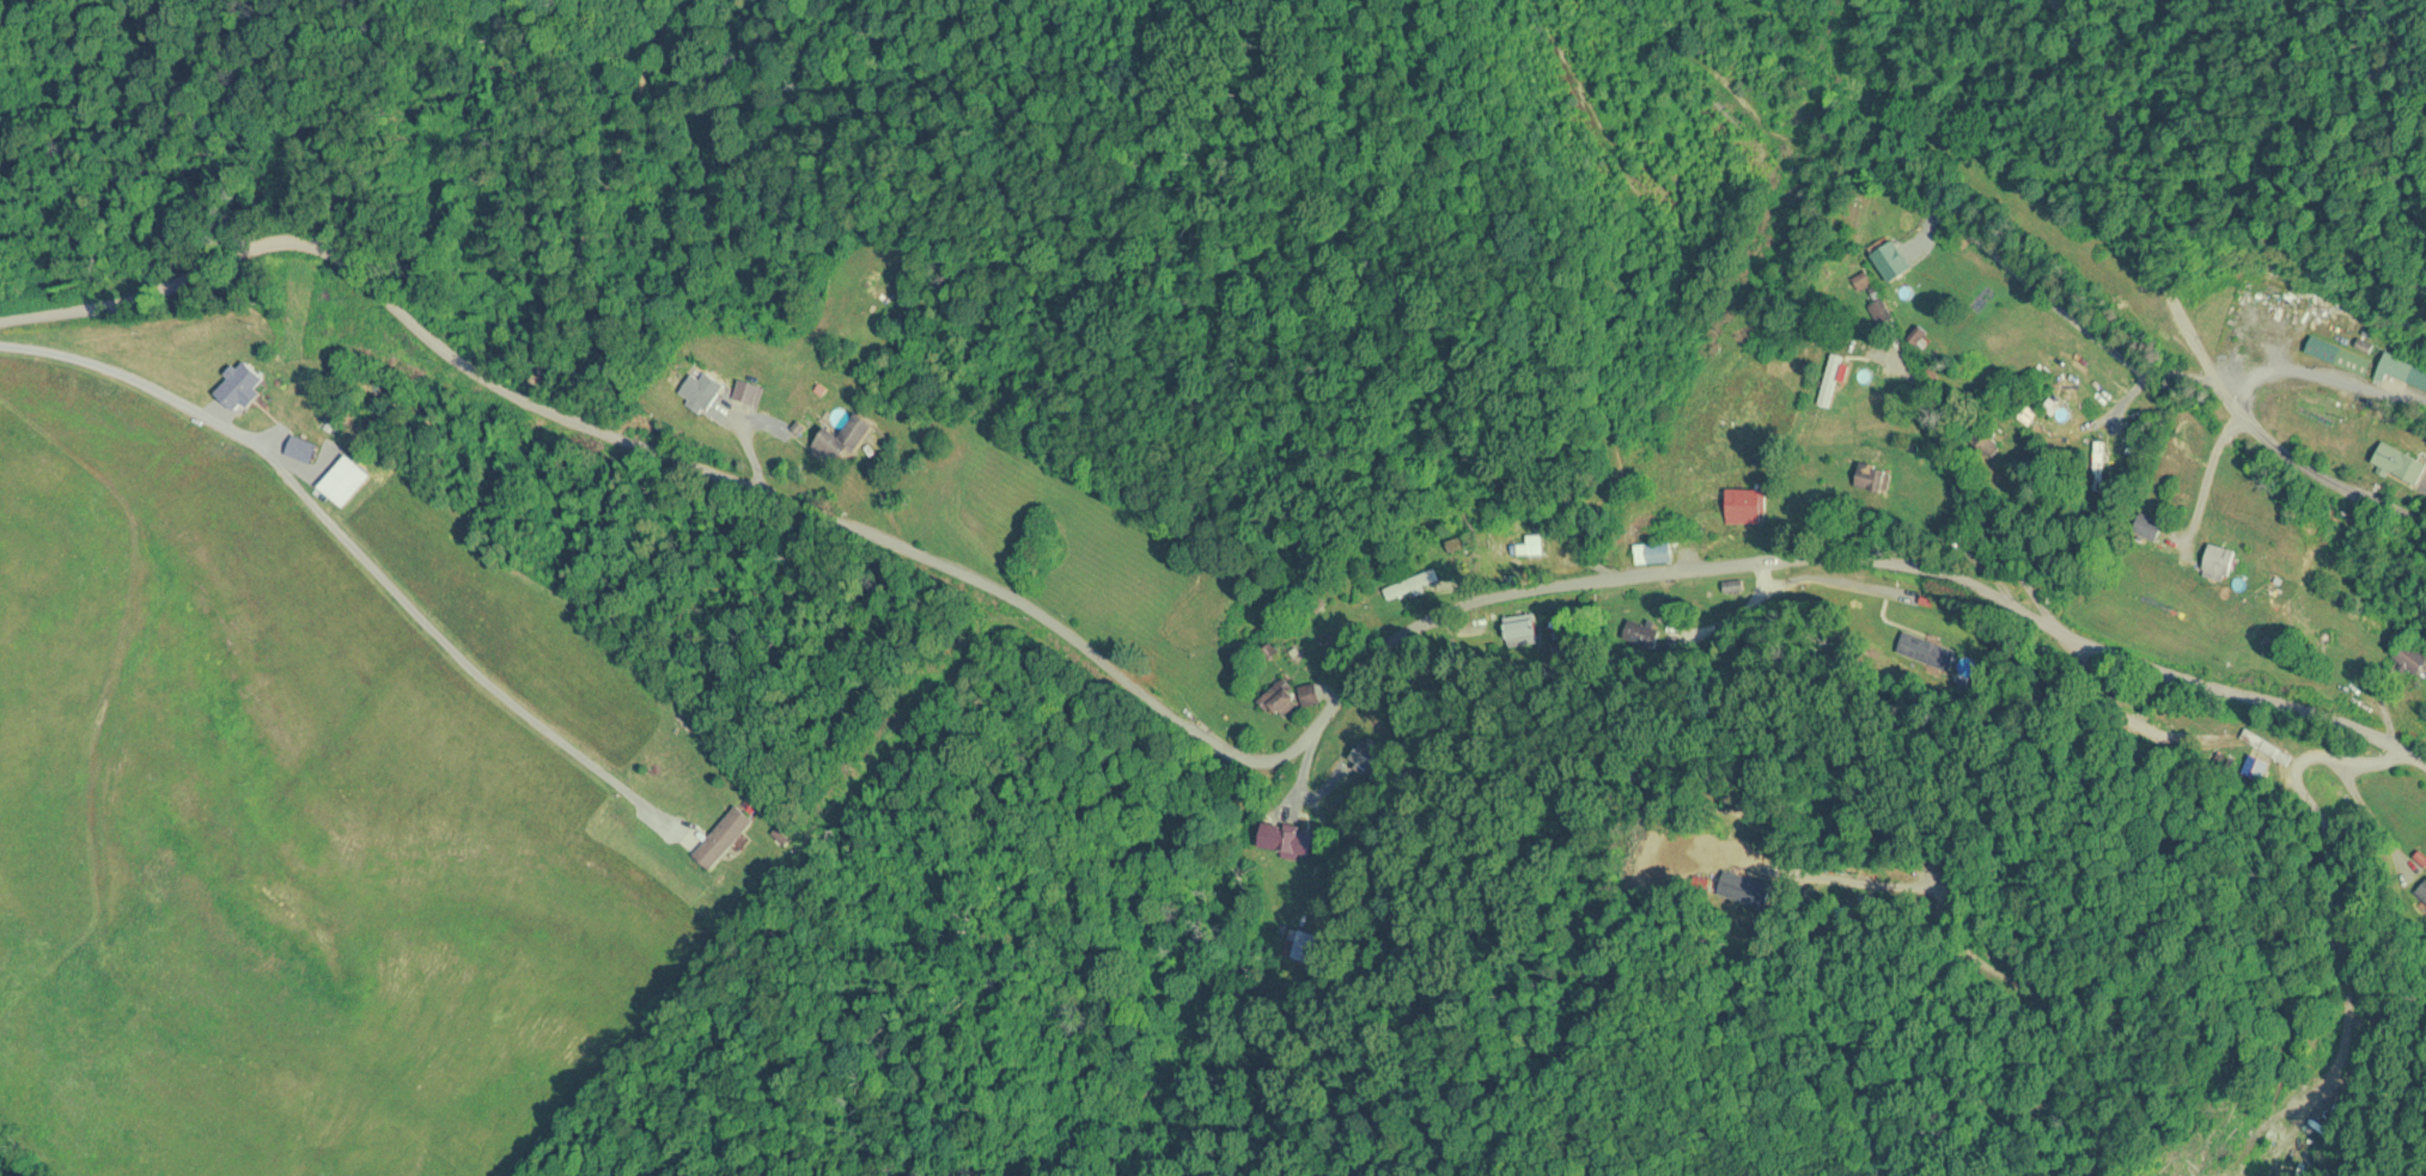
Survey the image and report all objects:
building: (1894, 279)
road: (2192, 303)
building: (2337, 355)
building: (1833, 378)
building: (237, 388)
building: (697, 390)
building: (745, 394)
building: (842, 435)
building: (1986, 446)
building: (300, 449)
building: (2398, 463)
building: (2098, 465)
building: (1871, 477)
building: (343, 481)
building: (1745, 506)
building: (1531, 546)
building: (1659, 553)
building: (2217, 562)
building: (1412, 585)
building: (1733, 586)
building: (1523, 629)
building: (2409, 658)
building: (1285, 699)
road: (1195, 724)
building: (2147, 725)
building: (1371, 756)
building: (721, 837)
building: (1286, 840)
building: (2421, 896)
building: (1305, 946)

